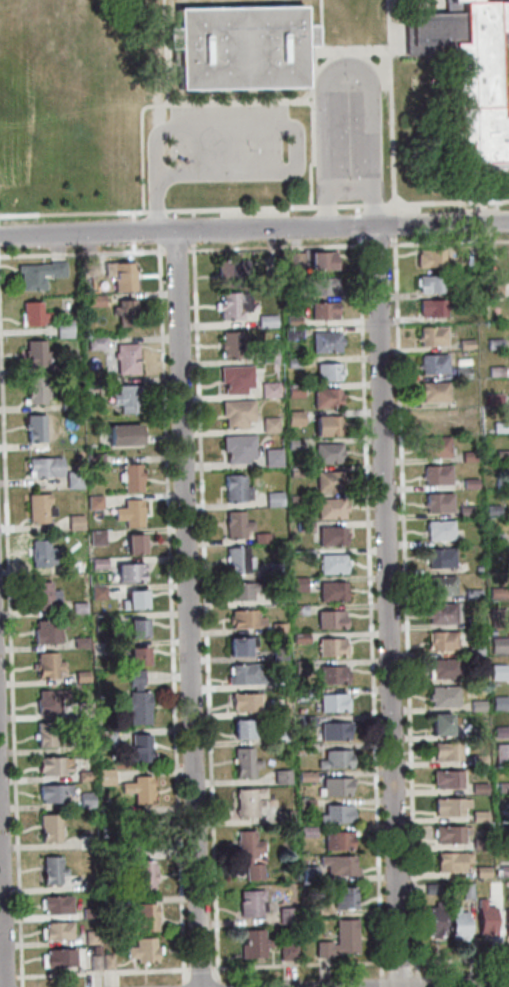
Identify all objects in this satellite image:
road: (321, 30)
building: (241, 46)
road: (165, 52)
road: (345, 53)
road: (348, 74)
building: (468, 75)
road: (230, 101)
road: (391, 107)
road: (263, 128)
road: (445, 202)
road: (371, 204)
road: (347, 205)
road: (324, 206)
road: (157, 212)
road: (191, 214)
road: (392, 224)
road: (254, 229)
road: (192, 230)
road: (157, 238)
road: (393, 239)
road: (451, 242)
road: (375, 244)
road: (389, 244)
road: (275, 248)
road: (175, 251)
road: (81, 253)
building: (429, 257)
building: (291, 260)
building: (321, 260)
building: (87, 266)
building: (230, 268)
building: (37, 273)
building: (119, 275)
building: (430, 283)
building: (322, 285)
building: (464, 289)
building: (493, 289)
building: (94, 300)
building: (231, 305)
building: (431, 307)
building: (322, 310)
building: (125, 313)
building: (30, 314)
building: (266, 321)
building: (292, 321)
building: (62, 329)
building: (292, 333)
building: (431, 335)
building: (325, 341)
building: (94, 343)
building: (465, 344)
building: (493, 344)
building: (229, 346)
building: (34, 353)
building: (267, 355)
building: (125, 359)
building: (292, 361)
building: (69, 363)
building: (433, 364)
building: (495, 371)
building: (326, 372)
building: (461, 373)
building: (234, 378)
building: (269, 389)
building: (35, 390)
building: (293, 391)
building: (433, 391)
building: (325, 398)
building: (492, 398)
building: (127, 399)
building: (467, 400)
building: (70, 404)
building: (236, 413)
building: (294, 417)
building: (440, 418)
building: (269, 425)
building: (327, 425)
building: (499, 426)
building: (33, 428)
building: (122, 435)
building: (293, 443)
building: (435, 446)
building: (237, 447)
building: (327, 453)
building: (502, 455)
building: (468, 456)
building: (272, 457)
building: (93, 461)
building: (43, 467)
building: (295, 472)
building: (436, 474)
building: (131, 478)
building: (72, 480)
building: (328, 481)
building: (469, 483)
building: (502, 483)
building: (235, 488)
building: (272, 499)
building: (294, 500)
building: (93, 502)
building: (437, 502)
building: (37, 508)
building: (329, 508)
building: (491, 510)
building: (465, 511)
building: (129, 513)
building: (73, 522)
building: (235, 524)
building: (303, 527)
building: (438, 529)
building: (330, 536)
building: (96, 537)
building: (493, 537)
building: (260, 538)
building: (133, 544)
building: (42, 553)
building: (303, 554)
building: (438, 557)
building: (237, 560)
building: (97, 563)
building: (331, 564)
building: (76, 566)
building: (461, 567)
building: (275, 569)
building: (128, 573)
building: (298, 584)
building: (440, 584)
building: (241, 591)
building: (331, 591)
building: (496, 592)
building: (97, 593)
building: (472, 594)
building: (42, 595)
building: (276, 598)
building: (133, 600)
road: (386, 606)
building: (78, 607)
road: (186, 609)
building: (298, 610)
road: (368, 610)
road: (404, 610)
road: (204, 611)
road: (169, 613)
building: (440, 613)
building: (496, 613)
building: (244, 619)
building: (329, 619)
building: (277, 627)
building: (135, 628)
building: (47, 631)
building: (298, 638)
building: (441, 641)
building: (79, 643)
building: (498, 645)
building: (240, 646)
building: (330, 647)
building: (474, 649)
building: (278, 654)
building: (136, 656)
building: (47, 665)
building: (300, 667)
building: (442, 668)
building: (496, 672)
building: (331, 674)
building: (243, 675)
building: (80, 677)
building: (278, 682)
road: (9, 684)
building: (302, 694)
building: (442, 696)
building: (135, 700)
building: (49, 701)
building: (283, 701)
building: (244, 702)
building: (332, 703)
building: (498, 703)
building: (476, 705)
building: (83, 710)
building: (279, 710)
building: (305, 721)
building: (439, 723)
building: (241, 729)
building: (333, 730)
building: (499, 731)
building: (478, 733)
building: (43, 735)
building: (278, 736)
building: (104, 739)
building: (302, 748)
building: (138, 749)
building: (445, 751)
building: (501, 754)
building: (334, 759)
building: (478, 759)
building: (243, 763)
building: (51, 765)
building: (84, 776)
building: (280, 776)
building: (104, 777)
building: (305, 777)
building: (446, 779)
building: (334, 786)
building: (503, 787)
building: (478, 788)
building: (137, 789)
building: (52, 793)
building: (84, 800)
building: (248, 801)
building: (305, 804)
building: (449, 807)
building: (502, 810)
building: (105, 812)
building: (337, 813)
building: (283, 816)
building: (478, 816)
building: (134, 823)
building: (48, 829)
building: (306, 831)
building: (450, 834)
building: (337, 840)
building: (84, 842)
building: (502, 842)
building: (479, 843)
building: (249, 853)
building: (451, 861)
building: (338, 865)
building: (504, 870)
building: (50, 871)
building: (481, 871)
building: (307, 872)
building: (140, 875)
building: (88, 885)
building: (431, 888)
building: (465, 890)
building: (344, 897)
building: (251, 903)
building: (55, 905)
building: (88, 913)
building: (285, 915)
building: (144, 917)
building: (483, 917)
building: (434, 919)
building: (506, 921)
road: (2, 922)
building: (456, 923)
building: (56, 932)
building: (90, 937)
building: (338, 940)
building: (251, 943)
building: (141, 950)
building: (287, 951)
building: (56, 959)
road: (462, 959)
building: (106, 961)
building: (93, 962)
road: (294, 963)
road: (397, 964)
road: (383, 965)
road: (411, 965)
road: (198, 969)
road: (100, 973)
road: (6, 977)
road: (416, 981)
road: (380, 982)
road: (216, 984)
road: (182, 985)
road: (467, 986)

